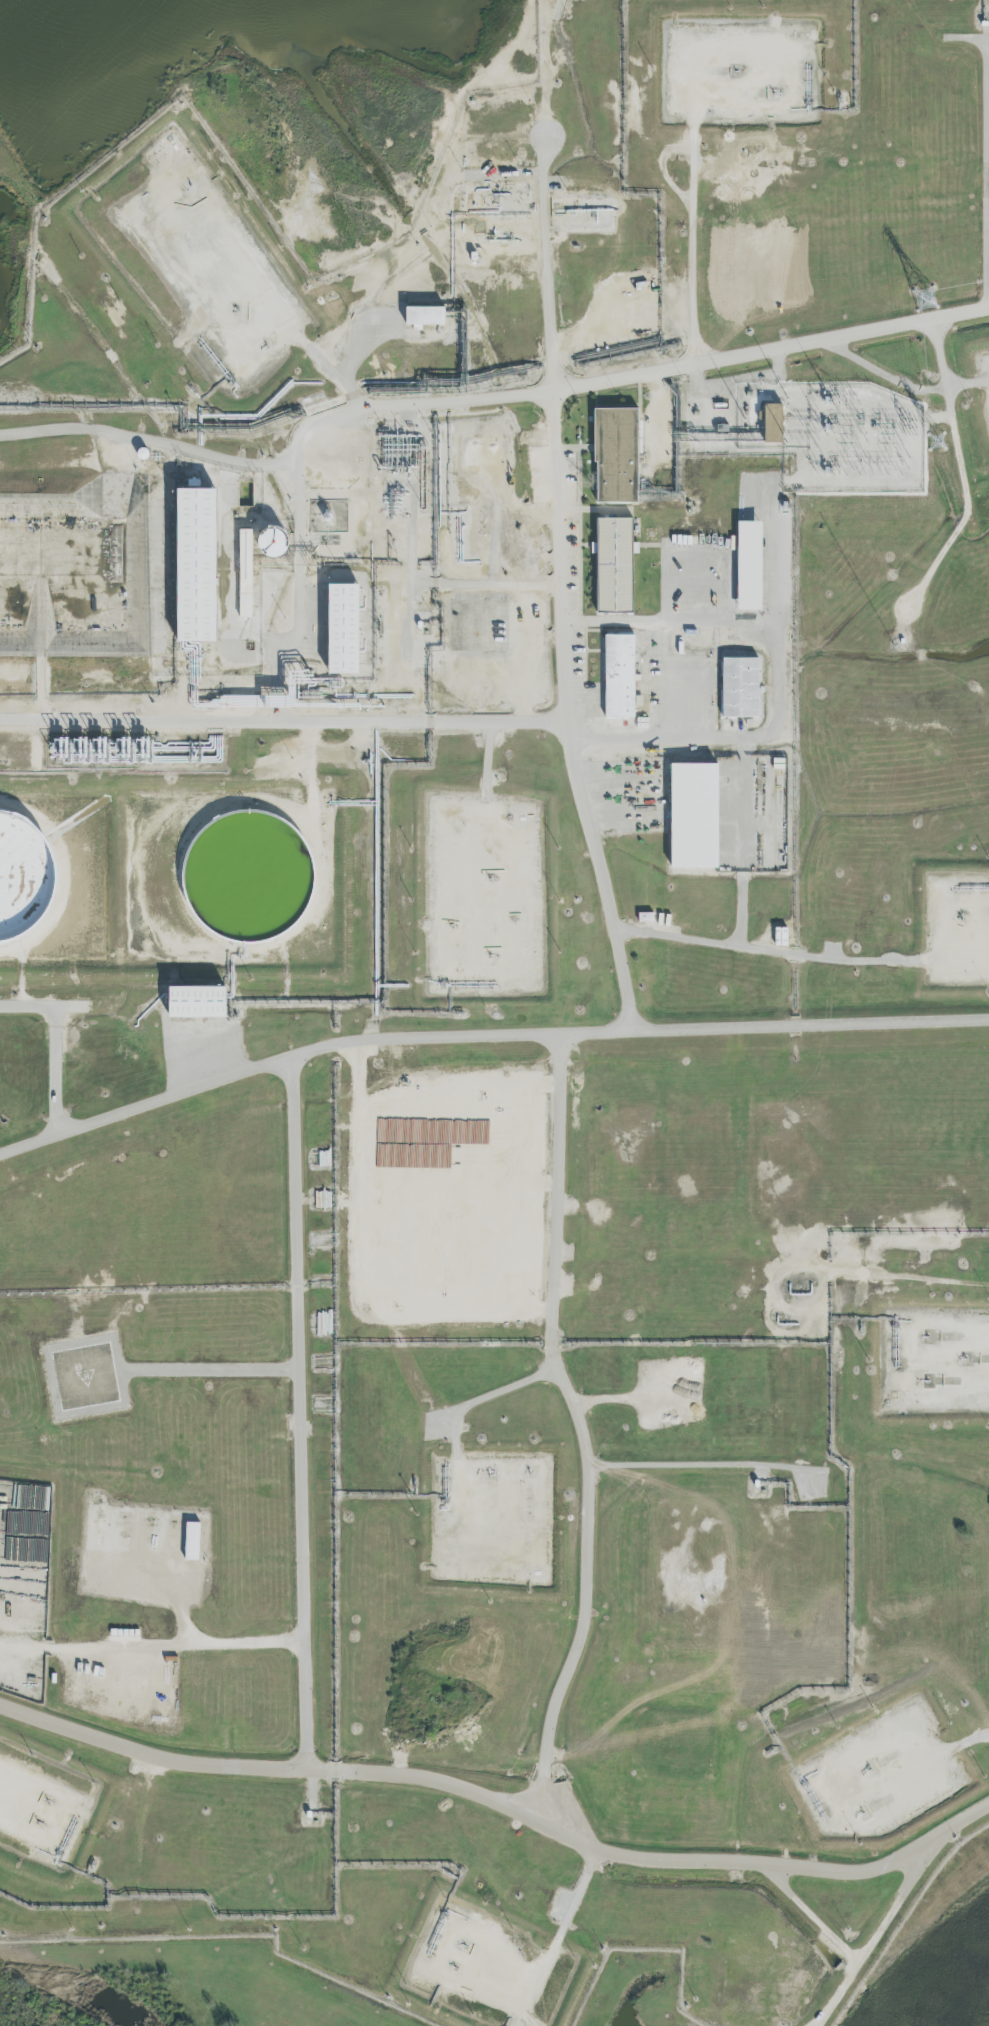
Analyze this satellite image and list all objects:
road: (986, 181)
road: (693, 216)
power tower: (921, 299)
building: (423, 317)
road: (912, 390)
road: (480, 405)
building: (772, 424)
power tower: (910, 428)
power substation: (833, 436)
power tower: (934, 440)
building: (613, 456)
road: (299, 502)
building: (274, 544)
building: (191, 564)
building: (613, 566)
building: (746, 566)
building: (20, 578)
road: (426, 586)
road: (502, 587)
road: (564, 589)
building: (340, 628)
building: (618, 676)
road: (779, 684)
building: (738, 686)
road: (282, 719)
building: (692, 817)
building: (21, 874)
storage tank: (21, 874)
building: (240, 874)
storage tank: (240, 874)
building: (780, 937)
road: (754, 947)
building: (196, 1002)
road: (485, 1040)
road: (52, 1051)
building: (407, 1174)
building: (418, 1281)
road: (299, 1419)
road: (583, 1429)
building: (97, 1528)
road: (153, 1651)
road: (507, 1803)
road: (810, 1920)
road: (877, 1933)

